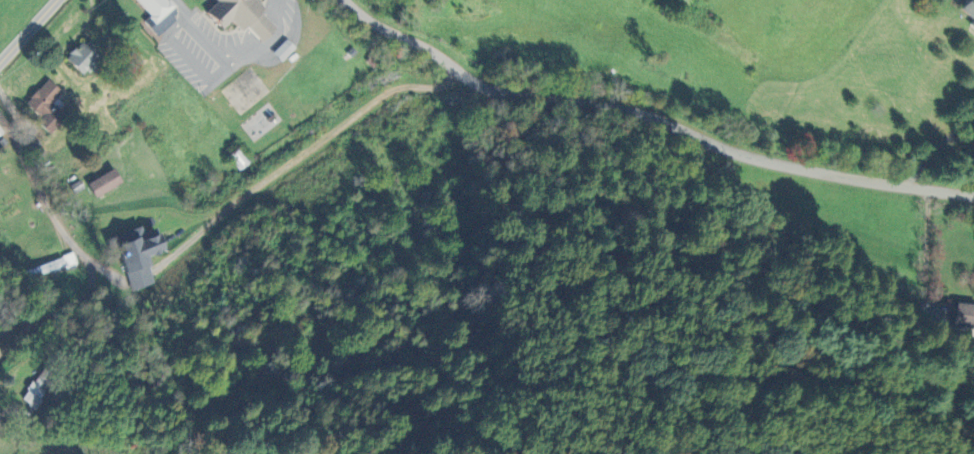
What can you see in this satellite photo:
building: (968, 12)
building: (160, 14)
building: (240, 15)
road: (28, 31)
road: (234, 51)
building: (85, 56)
building: (48, 105)
road: (653, 111)
road: (938, 144)
building: (106, 182)
road: (71, 237)
building: (143, 253)
building: (52, 266)
building: (961, 316)
road: (12, 339)
building: (38, 387)
road: (9, 411)

